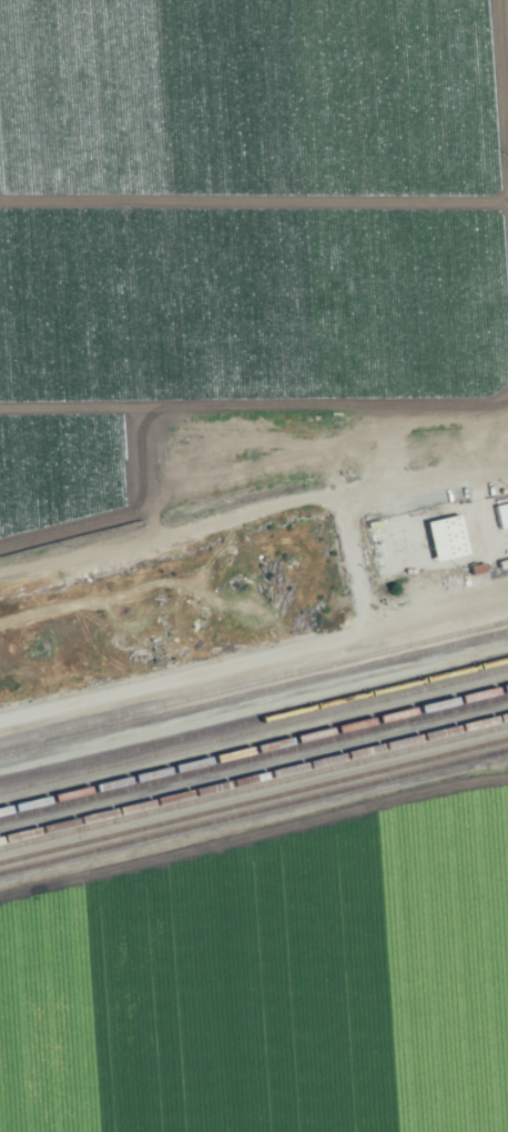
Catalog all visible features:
road: (502, 69)
crop: (244, 259)
road: (431, 473)
building: (500, 514)
building: (444, 537)
road: (163, 541)
road: (245, 660)
railway: (254, 682)
railway: (254, 691)
railway: (254, 721)
railway: (254, 730)
railway: (254, 750)
railway: (254, 760)
railway: (254, 777)
railway: (254, 787)
railway: (254, 800)
railway: (254, 810)
crop: (272, 983)

